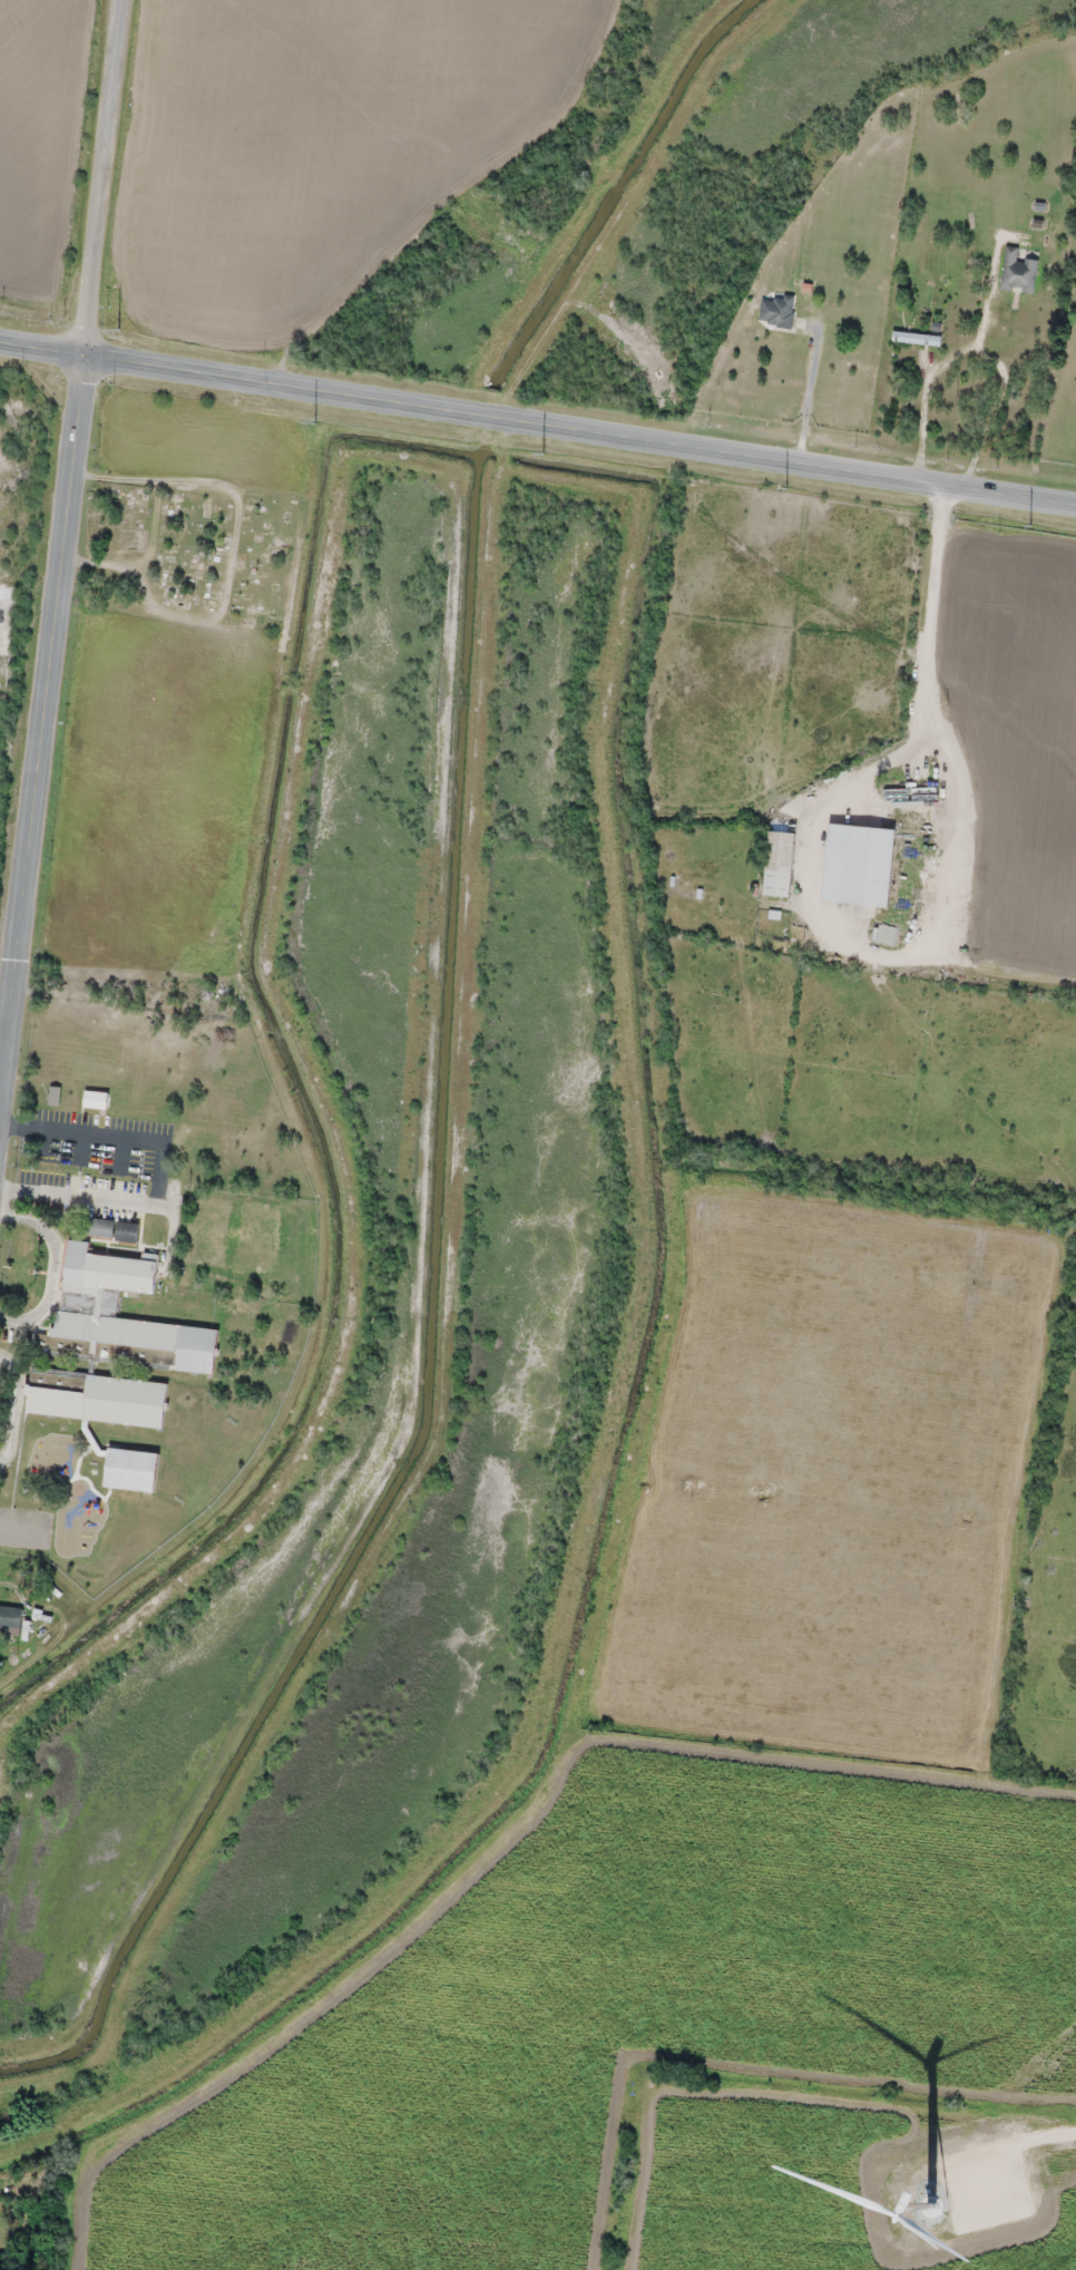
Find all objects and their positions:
road: (108, 179)
building: (1017, 271)
building: (776, 310)
building: (916, 338)
road: (42, 351)
road: (580, 432)
road: (711, 571)
building: (7, 605)
road: (42, 738)
building: (779, 863)
road: (101, 986)
building: (209, 1000)
building: (95, 1099)
building: (100, 1227)
building: (88, 1305)
building: (96, 1396)
building: (131, 1470)
building: (10, 1616)
wind turbine: (930, 2202)

